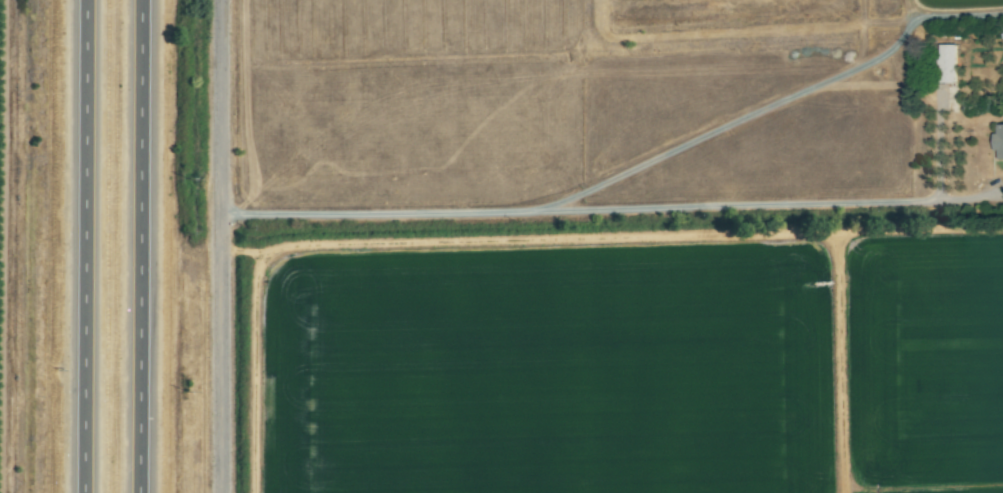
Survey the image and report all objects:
building: (945, 64)
road: (766, 107)
building: (997, 141)
road: (624, 210)
road: (87, 246)
road: (145, 246)
road: (226, 246)
road: (256, 358)

